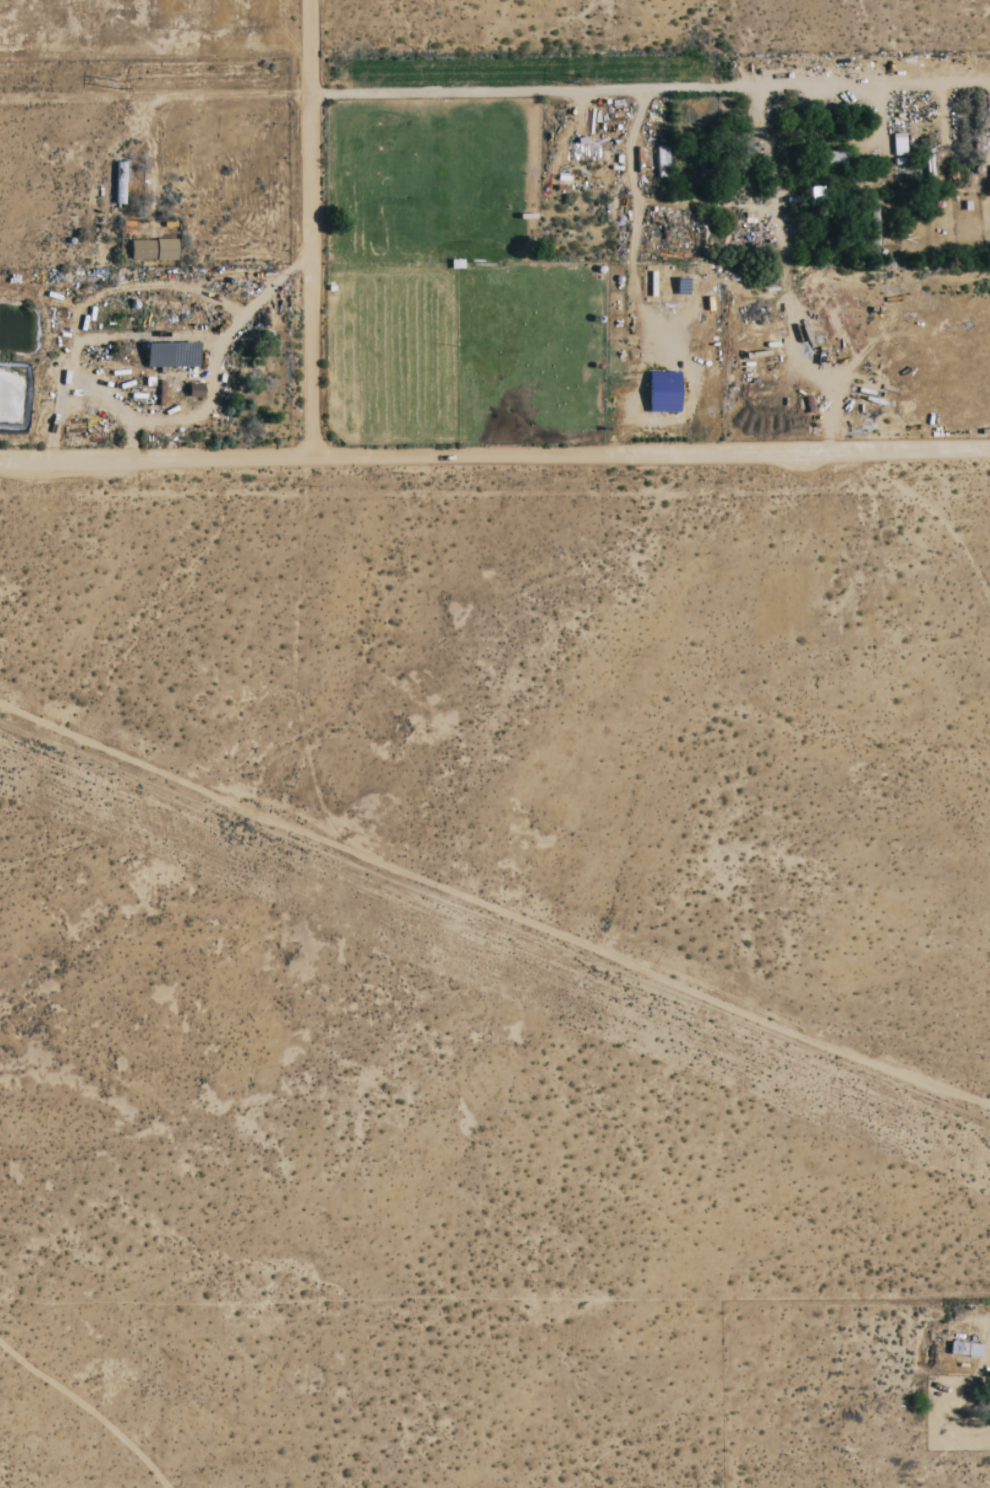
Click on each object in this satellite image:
power tower: (578, 81)
power tower: (118, 84)
road: (495, 94)
building: (899, 145)
building: (832, 161)
road: (312, 227)
building: (153, 250)
building: (664, 393)
road: (494, 452)

